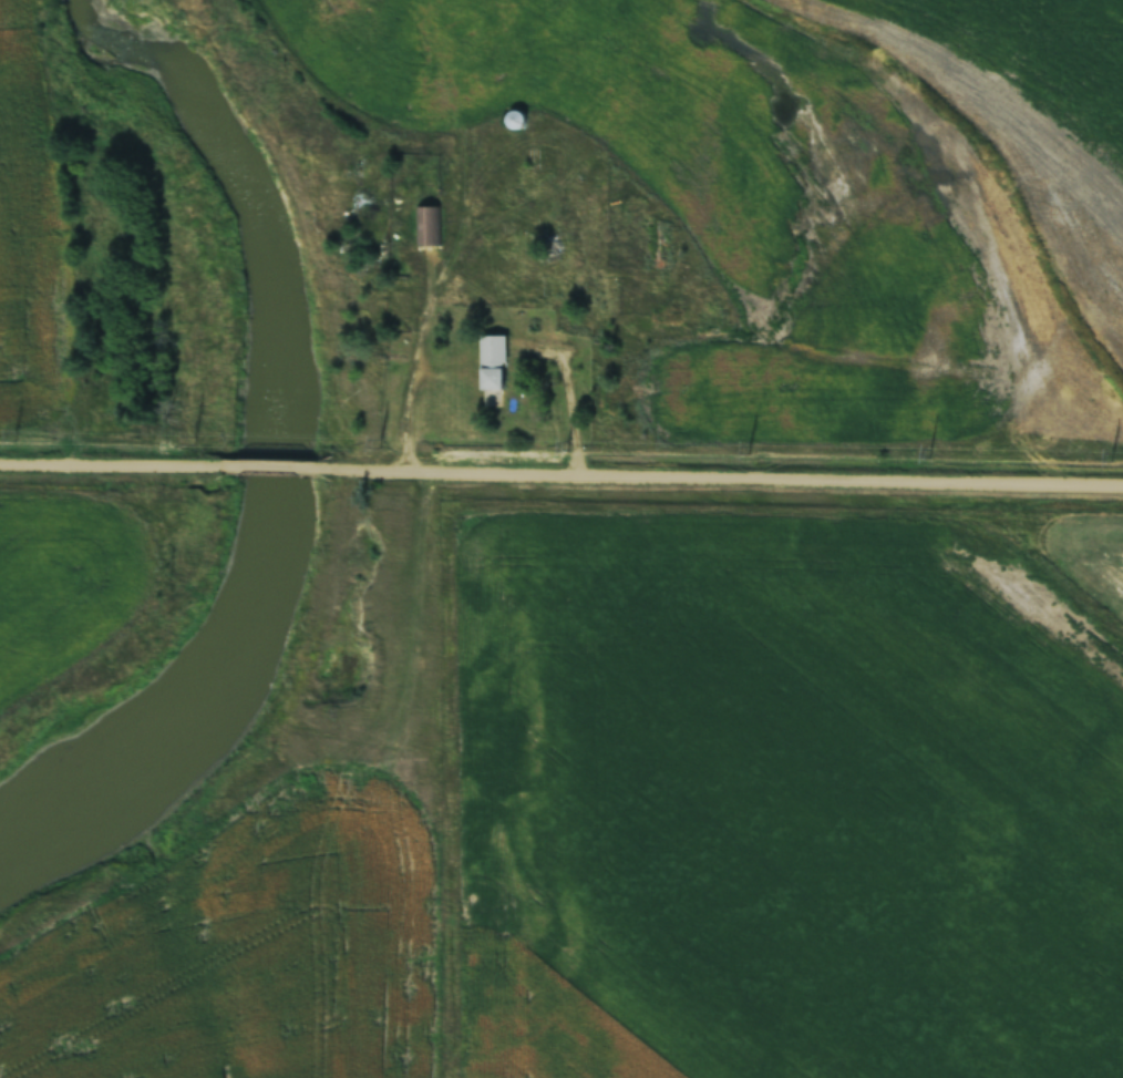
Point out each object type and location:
building: (515, 121)
building: (426, 226)
building: (657, 247)
building: (491, 372)
river: (271, 468)
road: (112, 469)
road: (270, 473)
road: (720, 482)

